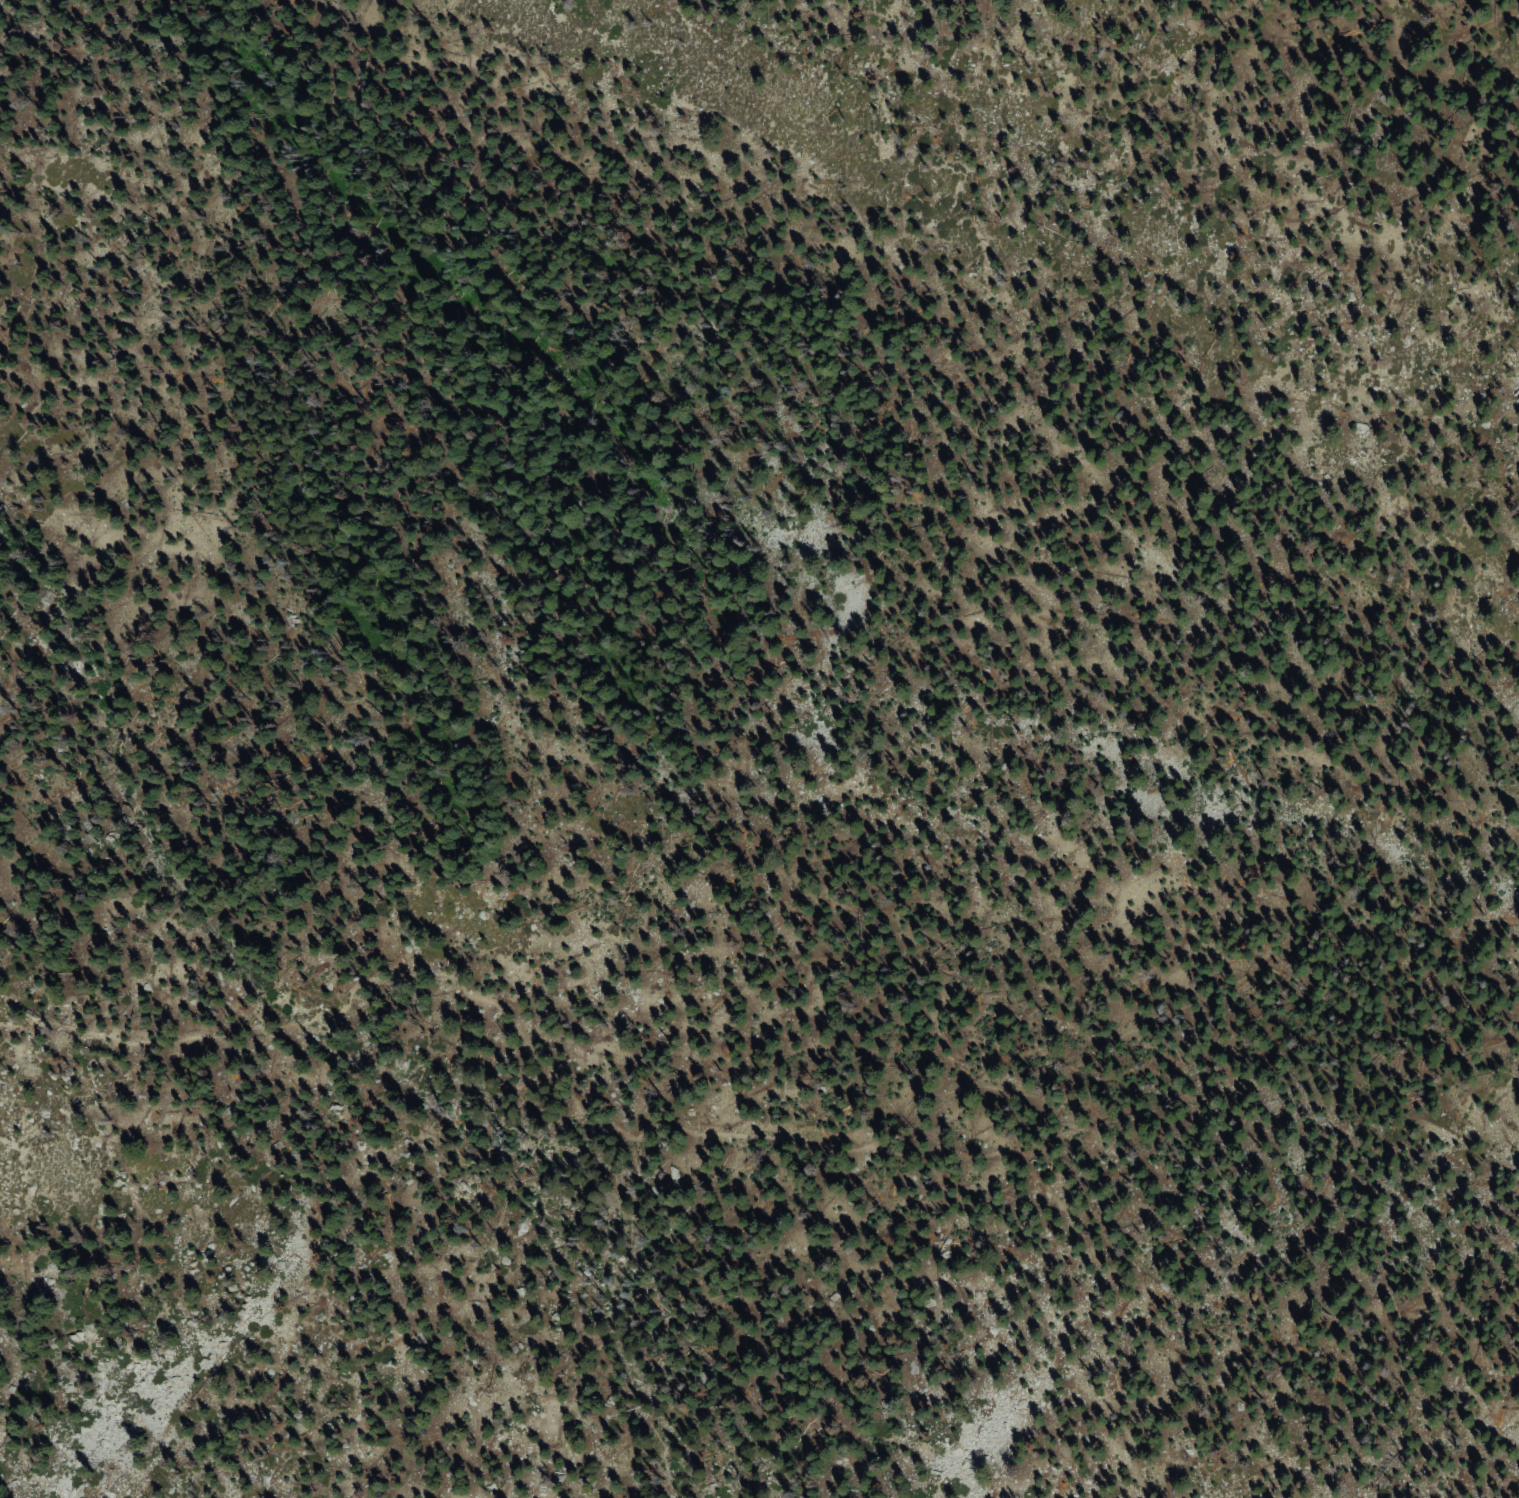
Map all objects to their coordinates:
road: (1196, 1000)
road: (646, 1122)

